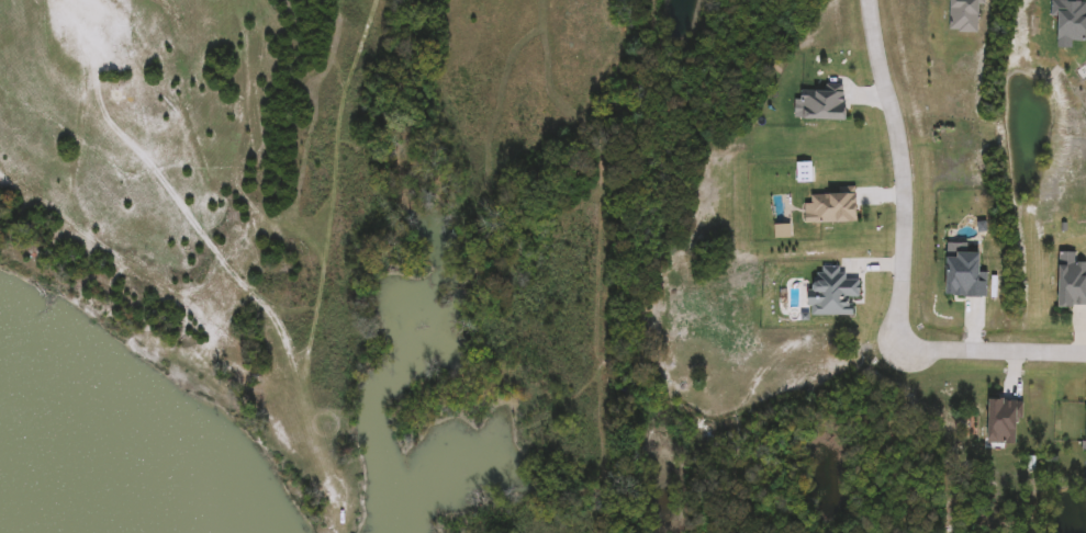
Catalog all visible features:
building: (962, 15)
building: (1065, 23)
building: (817, 105)
road: (904, 167)
building: (829, 208)
building: (962, 274)
building: (1068, 284)
building: (830, 291)
road: (994, 339)
building: (1085, 420)
building: (1000, 422)

